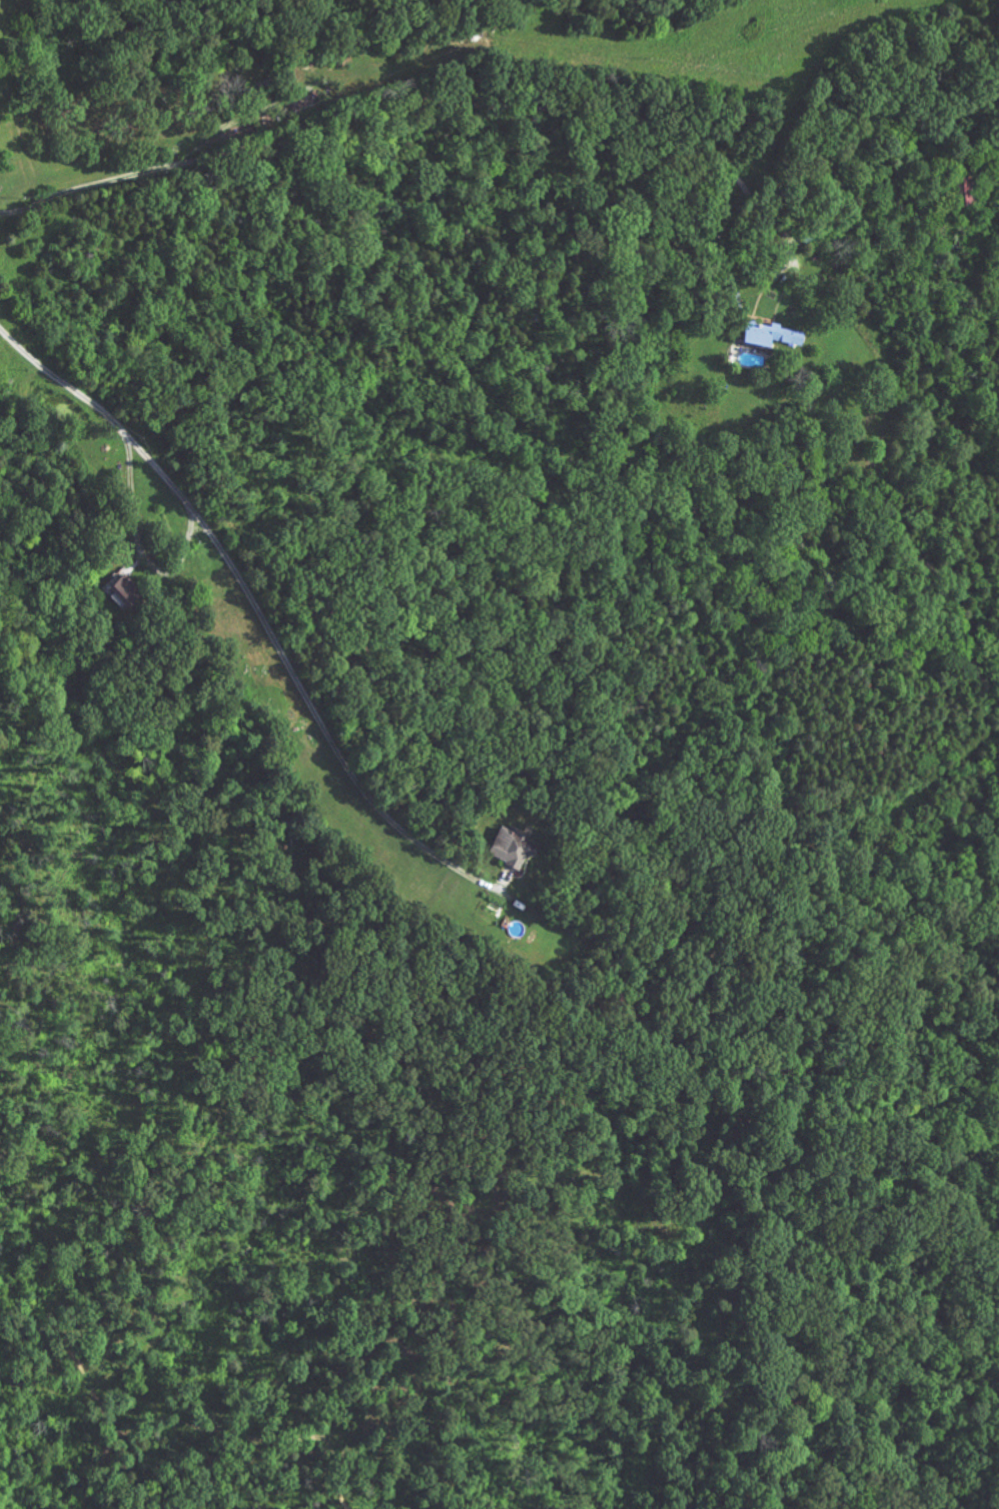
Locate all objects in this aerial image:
building: (9, 86)
road: (438, 100)
building: (15, 118)
building: (814, 318)
building: (167, 576)
road: (255, 614)
building: (552, 833)

